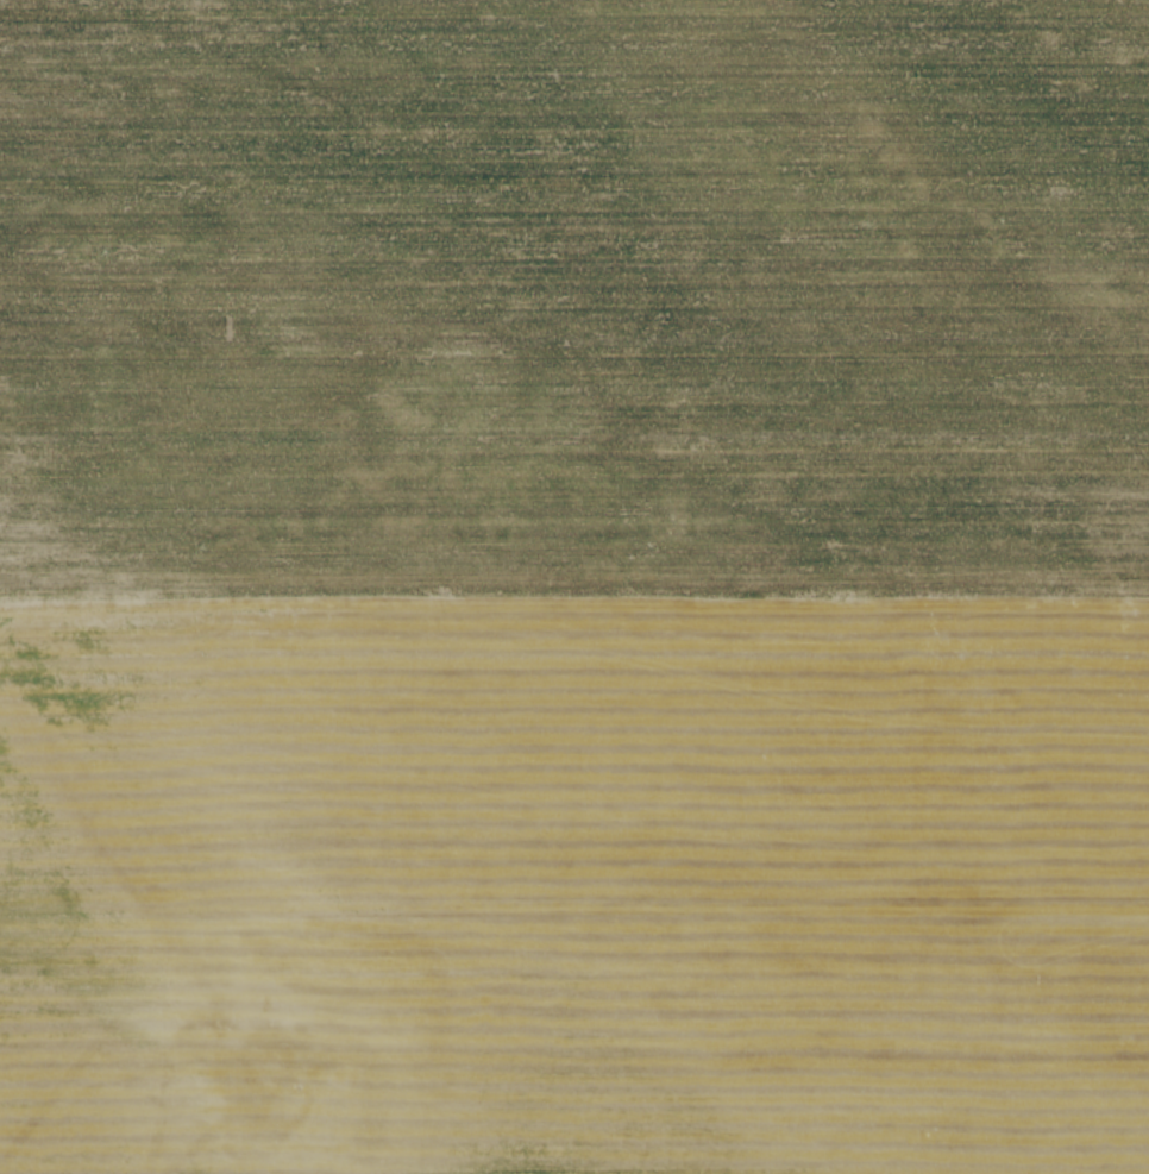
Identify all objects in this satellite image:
crop: (574, 586)

